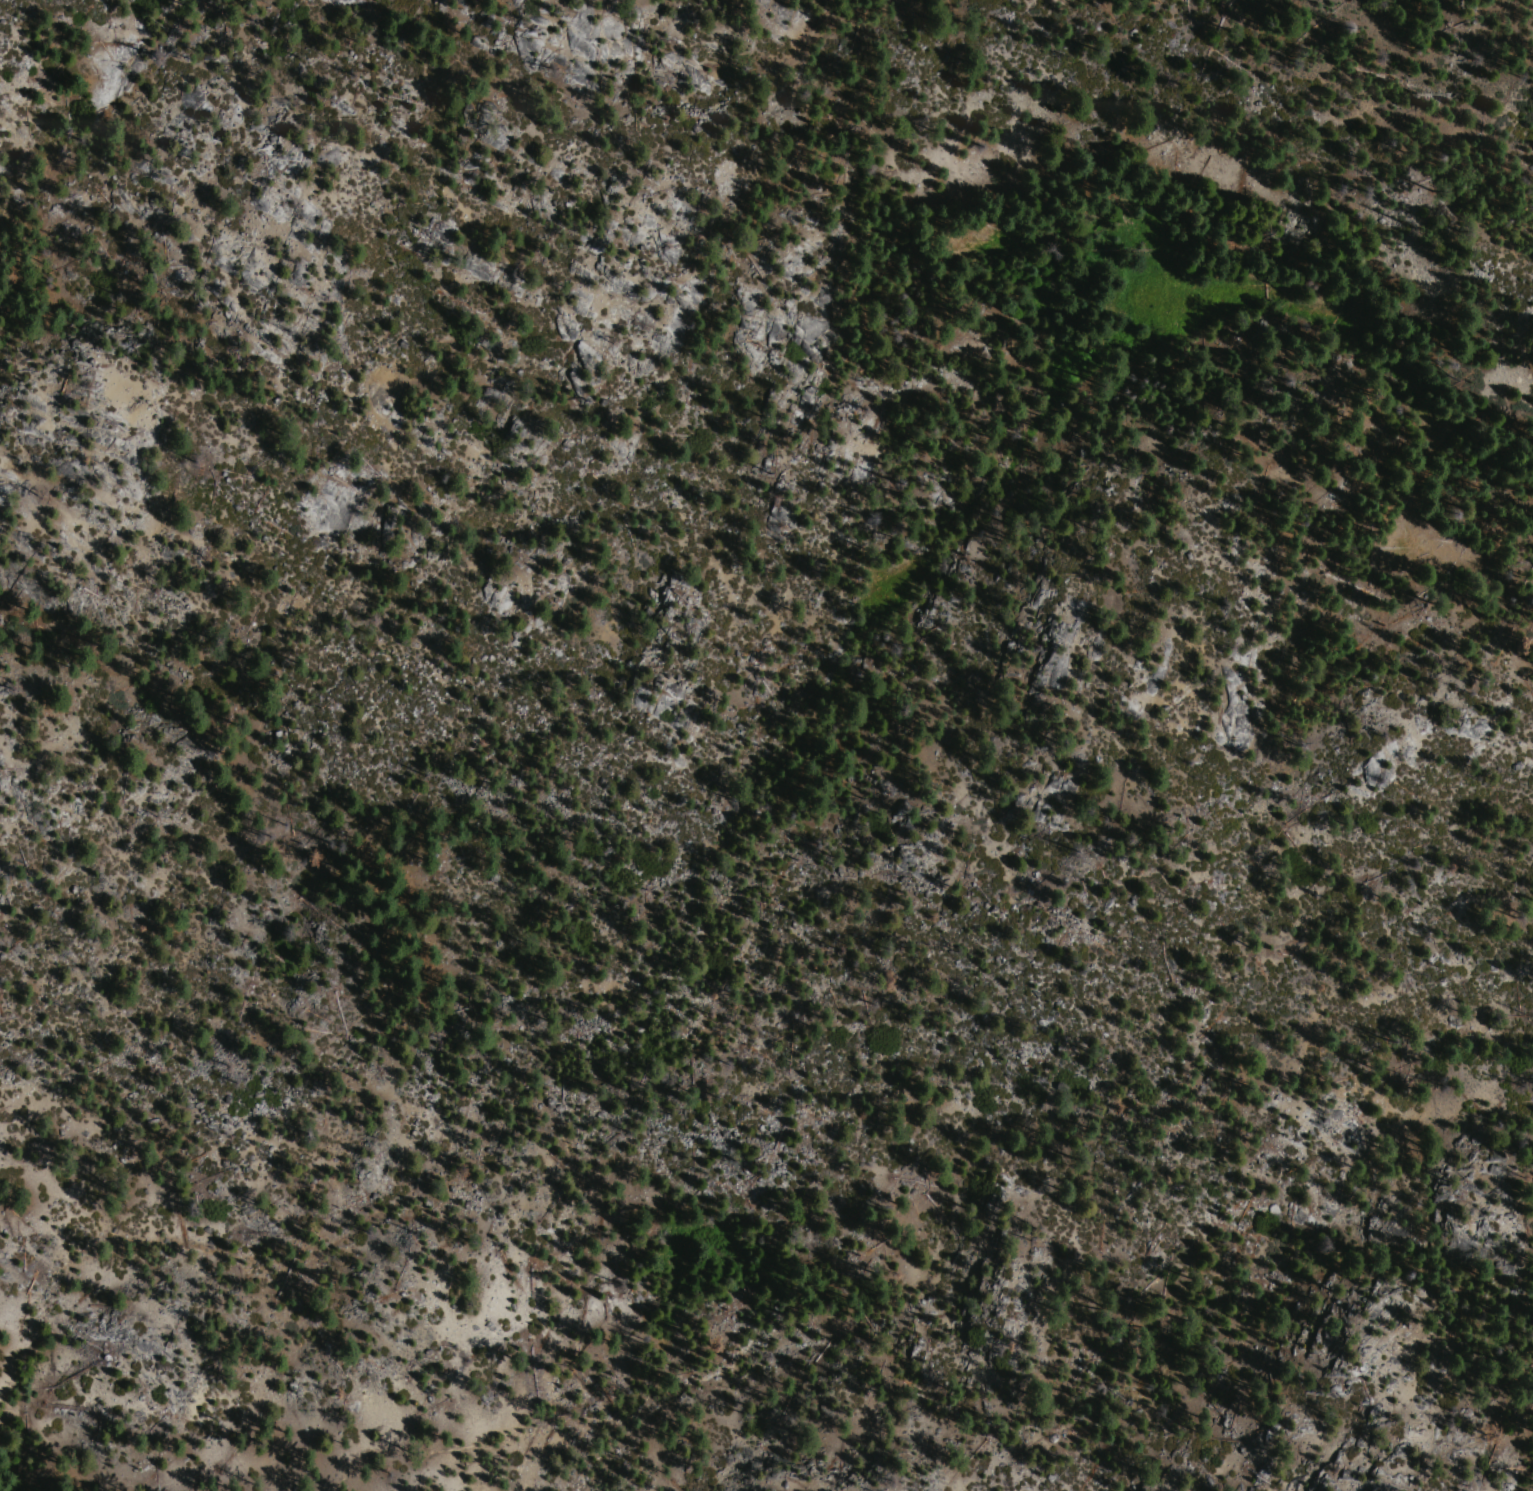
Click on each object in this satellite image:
road: (45, 1464)

